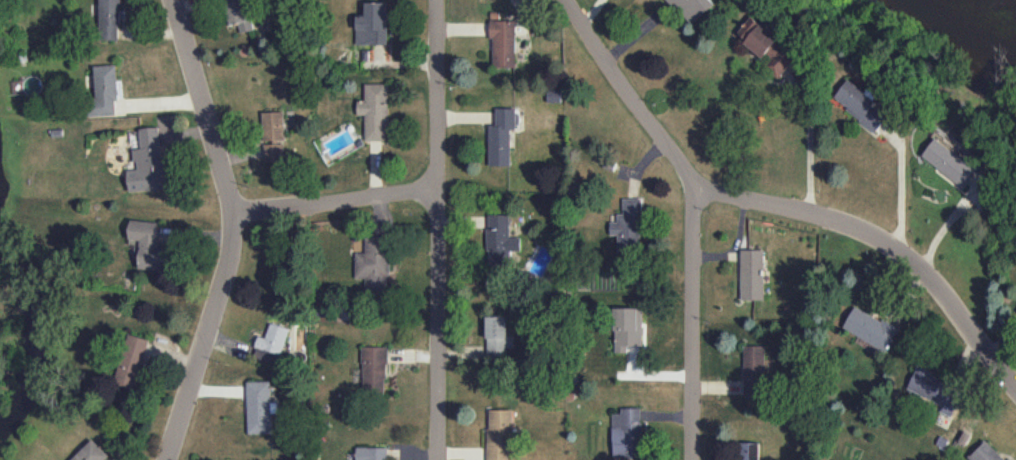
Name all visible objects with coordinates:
building: (692, 8)
building: (237, 14)
building: (109, 20)
building: (372, 24)
building: (503, 43)
building: (765, 45)
building: (103, 93)
building: (553, 95)
building: (862, 105)
building: (375, 111)
building: (273, 125)
building: (501, 136)
road: (809, 143)
building: (273, 152)
building: (950, 162)
building: (146, 163)
road: (901, 190)
road: (331, 205)
road: (771, 207)
building: (628, 226)
road: (229, 230)
road: (433, 230)
building: (500, 240)
building: (150, 245)
building: (373, 264)
building: (751, 274)
road: (689, 320)
building: (627, 328)
building: (870, 328)
building: (497, 336)
building: (271, 343)
building: (131, 360)
building: (374, 369)
building: (754, 370)
building: (936, 390)
building: (259, 406)
building: (627, 433)
building: (498, 434)
building: (748, 451)
building: (91, 452)
building: (372, 453)
building: (985, 453)
building: (1010, 459)

